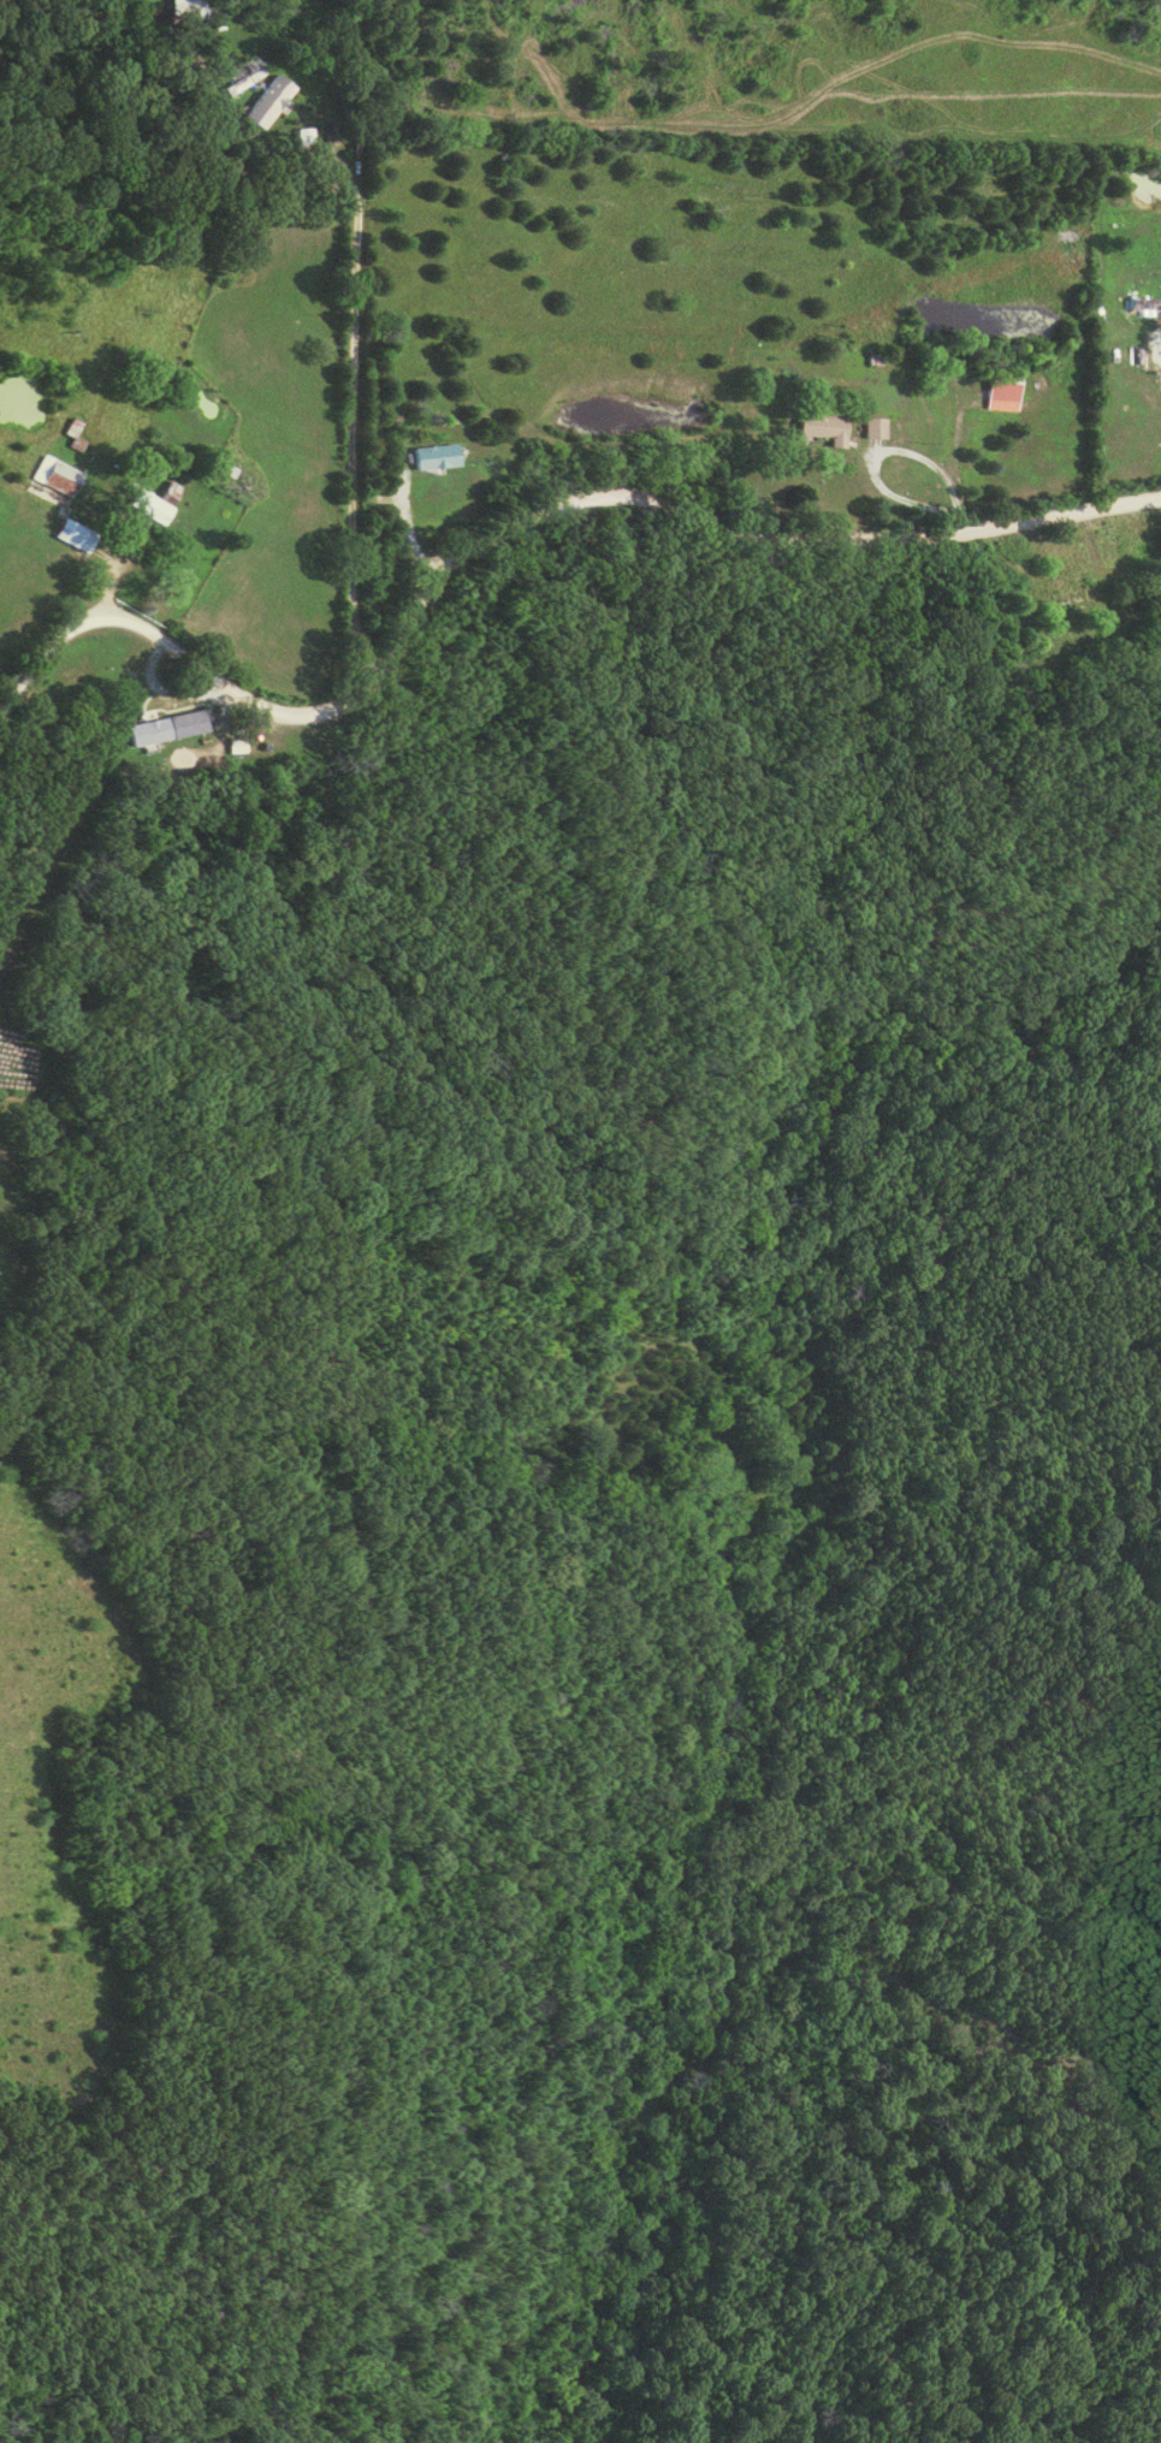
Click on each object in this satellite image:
building: (269, 102)
building: (306, 137)
road: (351, 384)
building: (1003, 398)
building: (823, 429)
building: (873, 429)
road: (882, 451)
building: (437, 458)
building: (60, 479)
building: (153, 509)
road: (519, 526)
building: (73, 536)
building: (168, 729)

